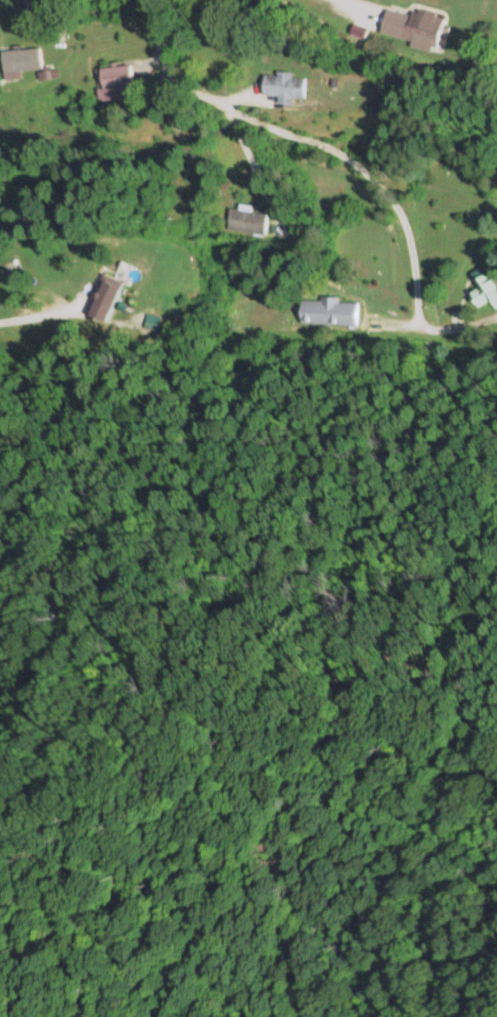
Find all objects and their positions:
building: (411, 23)
building: (113, 79)
building: (282, 86)
road: (285, 192)
building: (245, 219)
road: (442, 278)
building: (486, 290)
building: (105, 292)
building: (329, 310)
road: (219, 434)

